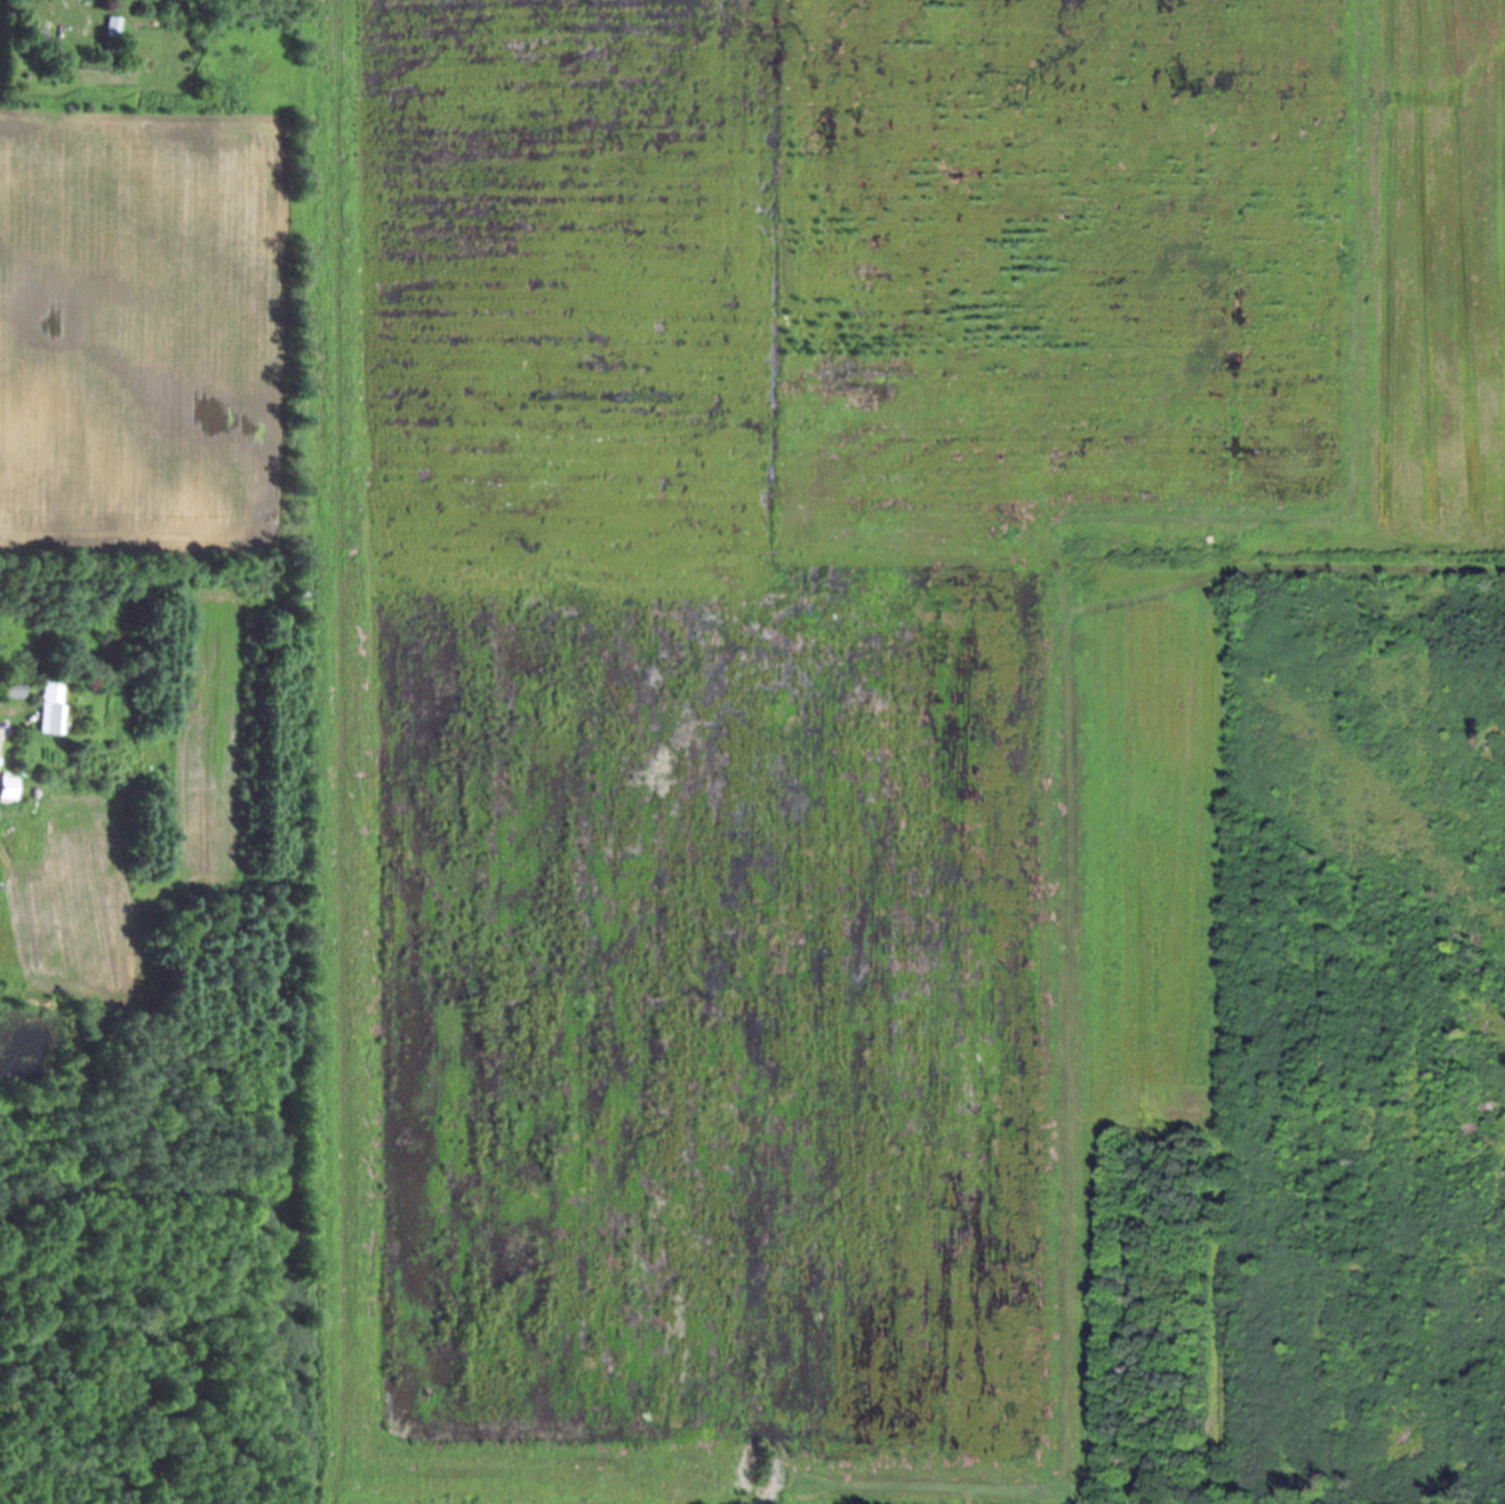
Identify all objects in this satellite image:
building: (112, 27)
building: (13, 690)
building: (51, 707)

